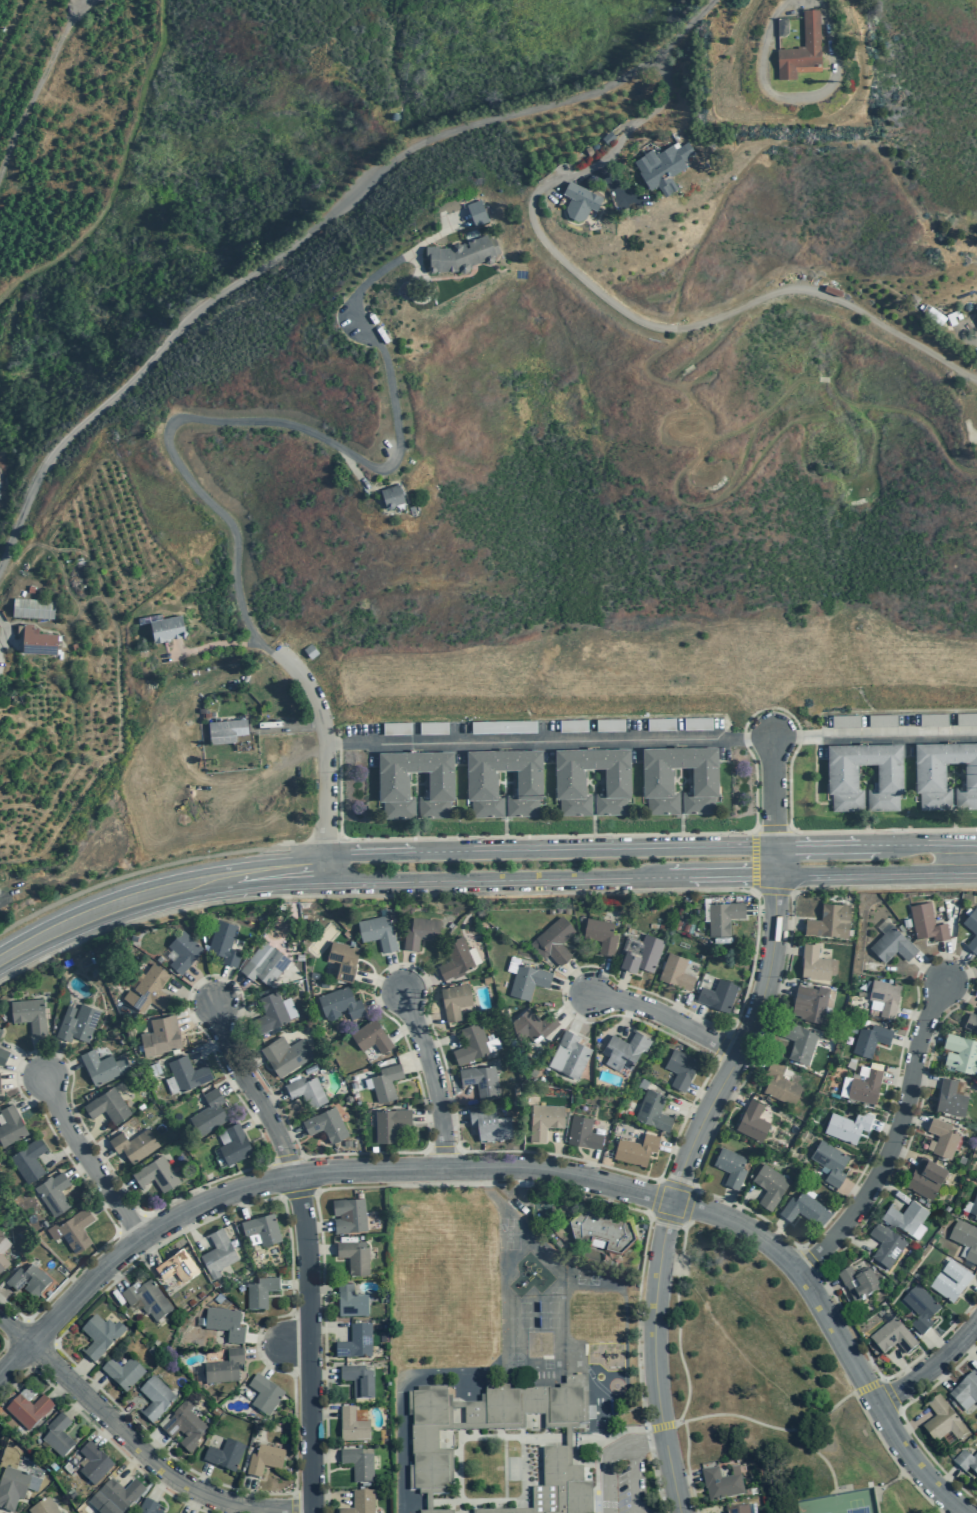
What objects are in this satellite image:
building: (802, 51)
building: (659, 168)
building: (579, 202)
building: (477, 214)
road: (315, 229)
building: (460, 256)
building: (976, 305)
building: (393, 497)
building: (33, 608)
building: (167, 628)
road: (6, 632)
building: (39, 643)
building: (310, 651)
road: (771, 707)
building: (966, 719)
building: (933, 720)
building: (845, 721)
building: (882, 721)
building: (661, 724)
building: (697, 724)
building: (610, 725)
building: (573, 726)
building: (503, 727)
building: (396, 728)
building: (433, 728)
building: (226, 730)
road: (799, 737)
road: (874, 737)
road: (744, 739)
road: (549, 740)
road: (328, 754)
crop: (219, 763)
building: (945, 775)
building: (842, 776)
building: (657, 779)
building: (569, 780)
building: (481, 782)
building: (393, 783)
road: (756, 787)
road: (773, 793)
road: (774, 830)
road: (840, 831)
road: (549, 835)
road: (317, 842)
road: (917, 845)
road: (827, 847)
road: (274, 848)
road: (501, 855)
road: (964, 859)
road: (754, 860)
road: (775, 862)
road: (865, 873)
road: (124, 875)
road: (502, 877)
road: (773, 891)
road: (109, 896)
road: (761, 909)
building: (723, 917)
road: (111, 920)
building: (829, 921)
building: (927, 923)
road: (787, 924)
road: (951, 926)
building: (972, 929)
building: (377, 931)
building: (420, 933)
building: (600, 936)
building: (553, 941)
building: (224, 942)
building: (892, 944)
road: (785, 947)
building: (183, 952)
building: (642, 955)
building: (456, 958)
building: (343, 959)
road: (945, 962)
building: (816, 963)
building: (264, 964)
road: (955, 966)
road: (928, 970)
building: (676, 972)
road: (395, 973)
road: (405, 973)
building: (314, 975)
road: (960, 976)
road: (603, 977)
road: (579, 979)
building: (528, 980)
road: (381, 982)
road: (418, 983)
road: (621, 985)
road: (222, 986)
road: (572, 987)
road: (203, 988)
road: (778, 988)
building: (149, 990)
road: (230, 992)
road: (960, 992)
building: (718, 995)
road: (192, 996)
road: (384, 997)
building: (885, 997)
building: (455, 1000)
building: (340, 1003)
building: (810, 1003)
road: (573, 1004)
road: (678, 1005)
road: (237, 1012)
building: (271, 1012)
road: (582, 1013)
road: (198, 1014)
building: (29, 1015)
road: (913, 1015)
road: (428, 1017)
road: (626, 1017)
road: (666, 1017)
road: (696, 1018)
building: (971, 1022)
building: (77, 1023)
building: (532, 1024)
road: (403, 1029)
road: (611, 1029)
building: (0, 1031)
building: (160, 1035)
building: (371, 1036)
road: (764, 1037)
road: (931, 1037)
building: (870, 1039)
road: (441, 1041)
building: (799, 1041)
road: (905, 1042)
building: (471, 1043)
road: (743, 1043)
road: (210, 1045)
road: (760, 1048)
building: (624, 1050)
building: (960, 1053)
building: (286, 1054)
building: (569, 1055)
building: (2, 1056)
road: (41, 1059)
road: (53, 1060)
road: (249, 1063)
road: (417, 1065)
building: (102, 1066)
road: (27, 1068)
building: (681, 1068)
road: (61, 1070)
building: (187, 1073)
road: (433, 1077)
road: (897, 1077)
road: (24, 1079)
road: (924, 1079)
building: (482, 1080)
road: (231, 1081)
building: (386, 1082)
building: (780, 1084)
building: (865, 1086)
building: (306, 1090)
road: (252, 1092)
road: (701, 1093)
building: (950, 1098)
road: (272, 1099)
road: (456, 1099)
road: (35, 1100)
road: (891, 1100)
building: (107, 1105)
road: (453, 1107)
building: (653, 1111)
road: (686, 1111)
building: (209, 1113)
road: (428, 1114)
road: (254, 1116)
road: (914, 1119)
road: (454, 1120)
building: (544, 1120)
building: (752, 1121)
building: (389, 1123)
building: (489, 1124)
building: (10, 1125)
building: (326, 1125)
building: (847, 1126)
road: (885, 1128)
road: (94, 1132)
building: (583, 1133)
road: (291, 1134)
building: (943, 1138)
road: (895, 1139)
building: (134, 1144)
building: (235, 1144)
road: (675, 1146)
building: (636, 1149)
road: (443, 1150)
road: (61, 1152)
road: (557, 1152)
road: (903, 1153)
road: (99, 1155)
road: (284, 1159)
building: (28, 1160)
road: (88, 1161)
building: (830, 1161)
road: (484, 1166)
road: (591, 1166)
building: (731, 1167)
road: (79, 1168)
building: (156, 1174)
building: (925, 1177)
road: (660, 1180)
road: (661, 1182)
road: (483, 1185)
building: (769, 1185)
road: (122, 1189)
road: (693, 1190)
road: (887, 1190)
road: (854, 1191)
building: (53, 1193)
road: (299, 1194)
road: (241, 1202)
road: (102, 1203)
road: (726, 1204)
road: (740, 1204)
building: (974, 1207)
building: (800, 1208)
building: (349, 1215)
road: (651, 1215)
building: (905, 1218)
road: (132, 1224)
road: (684, 1224)
road: (317, 1226)
building: (262, 1228)
building: (601, 1228)
building: (75, 1229)
road: (191, 1231)
road: (776, 1231)
building: (559, 1232)
road: (852, 1240)
building: (965, 1240)
building: (3, 1242)
building: (885, 1246)
road: (130, 1247)
road: (148, 1250)
road: (319, 1250)
building: (218, 1253)
building: (355, 1256)
road: (809, 1258)
building: (3, 1262)
building: (177, 1266)
road: (115, 1275)
park: (586, 1277)
building: (28, 1280)
building: (949, 1282)
building: (858, 1283)
road: (974, 1283)
road: (294, 1284)
road: (320, 1290)
road: (825, 1290)
building: (260, 1292)
road: (4, 1294)
building: (146, 1300)
building: (350, 1302)
building: (920, 1309)
building: (224, 1323)
road: (678, 1325)
road: (326, 1329)
road: (17, 1331)
road: (39, 1332)
road: (836, 1334)
building: (99, 1336)
building: (892, 1337)
road: (265, 1340)
building: (355, 1342)
road: (4, 1343)
road: (296, 1343)
road: (309, 1344)
road: (936, 1344)
road: (256, 1348)
road: (968, 1349)
road: (264, 1350)
road: (17, 1353)
road: (42, 1353)
road: (653, 1357)
road: (273, 1359)
road: (931, 1366)
road: (30, 1367)
building: (223, 1368)
road: (902, 1368)
road: (77, 1371)
building: (122, 1373)
road: (322, 1374)
road: (939, 1376)
building: (357, 1381)
park: (767, 1385)
road: (93, 1386)
road: (867, 1386)
road: (58, 1388)
building: (965, 1389)
road: (890, 1394)
building: (263, 1396)
building: (155, 1398)
road: (75, 1405)
building: (529, 1406)
building: (28, 1411)
road: (125, 1411)
road: (323, 1412)
road: (903, 1419)
building: (942, 1421)
road: (911, 1424)
building: (183, 1426)
building: (352, 1426)
road: (662, 1426)
road: (769, 1426)
road: (98, 1432)
road: (104, 1433)
building: (57, 1436)
building: (429, 1438)
road: (154, 1445)
road: (137, 1447)
road: (597, 1452)
road: (608, 1454)
building: (224, 1455)
road: (323, 1457)
road: (891, 1457)
road: (822, 1459)
building: (264, 1460)
building: (966, 1462)
building: (93, 1464)
road: (128, 1464)
building: (357, 1464)
road: (687, 1467)
road: (907, 1471)
parking lot: (624, 1474)
road: (202, 1478)
road: (632, 1478)
road: (946, 1478)
road: (686, 1479)
road: (891, 1481)
building: (720, 1484)
road: (158, 1485)
building: (12, 1488)
building: (556, 1488)
road: (862, 1489)
road: (249, 1493)
road: (302, 1495)
road: (329, 1496)
building: (114, 1497)
road: (876, 1501)
road: (193, 1502)
road: (293, 1502)
building: (360, 1503)
park: (840, 1503)
road: (326, 1505)
building: (43, 1507)
building: (147, 1507)
road: (229, 1508)
building: (737, 1509)
road: (261, 1510)
building: (436, 1511)
road: (709, 1512)

